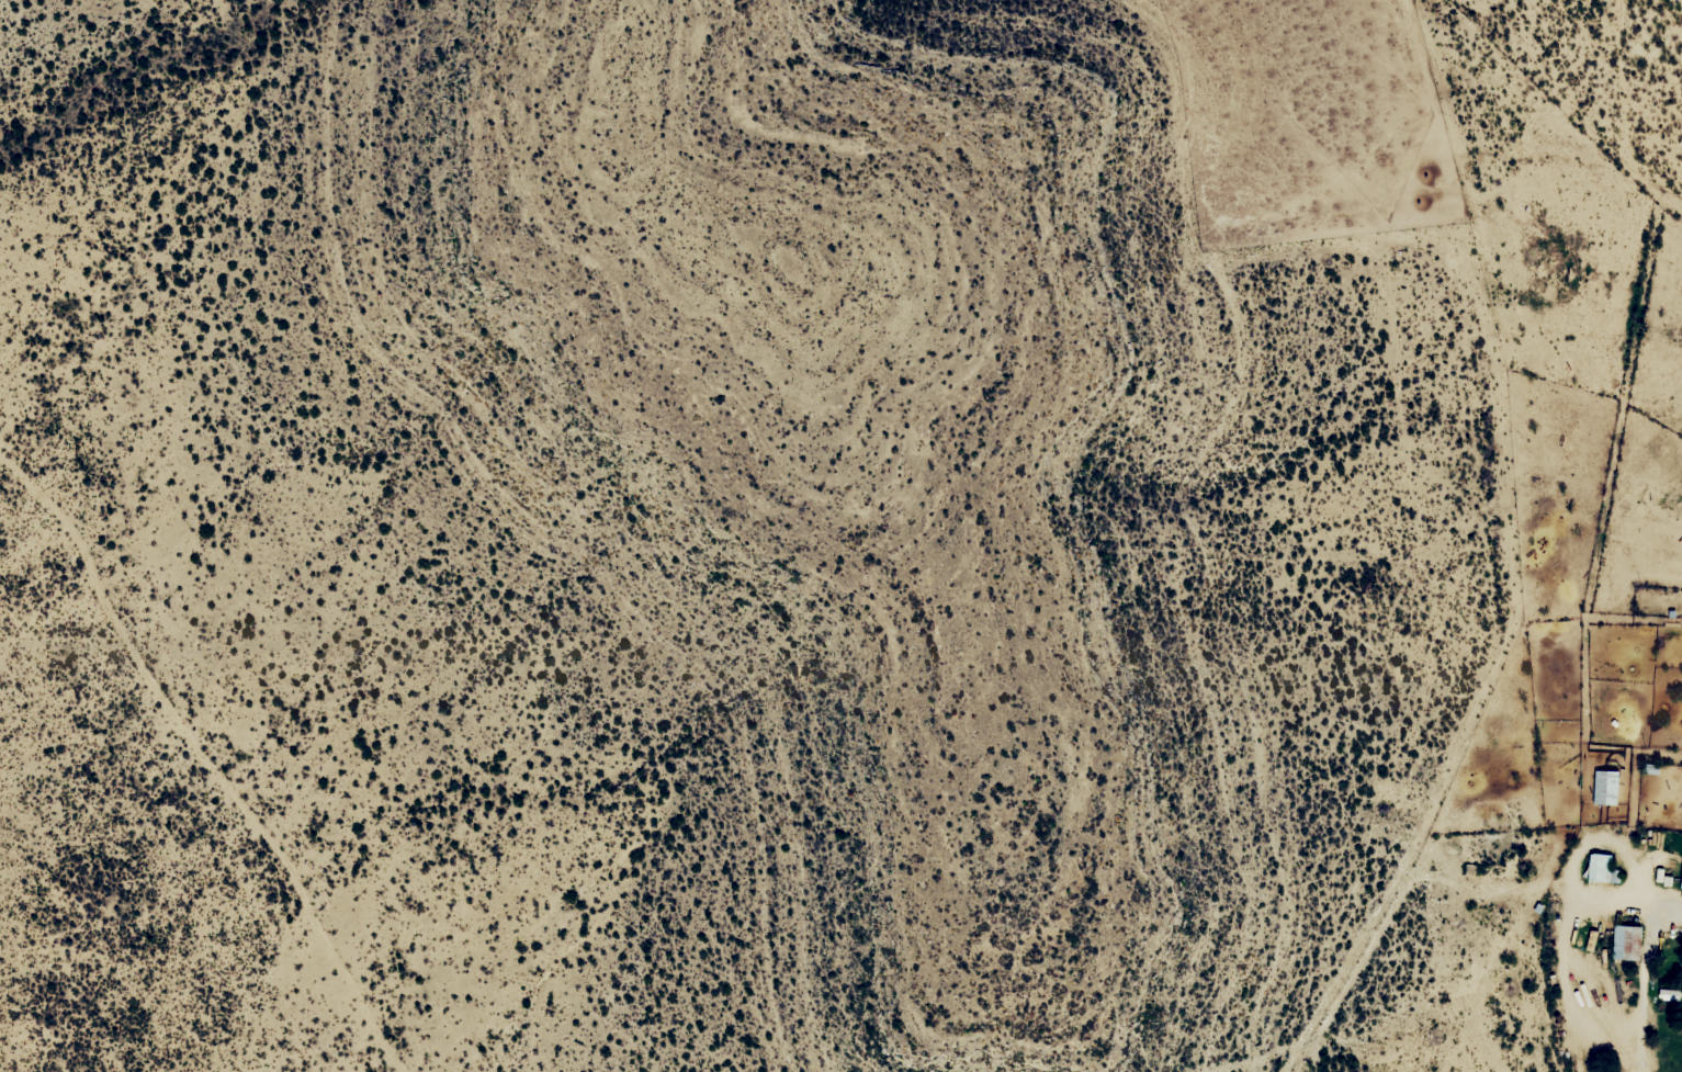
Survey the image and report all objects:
building: (1603, 786)
building: (1599, 867)
building: (1624, 940)
road: (1560, 941)

